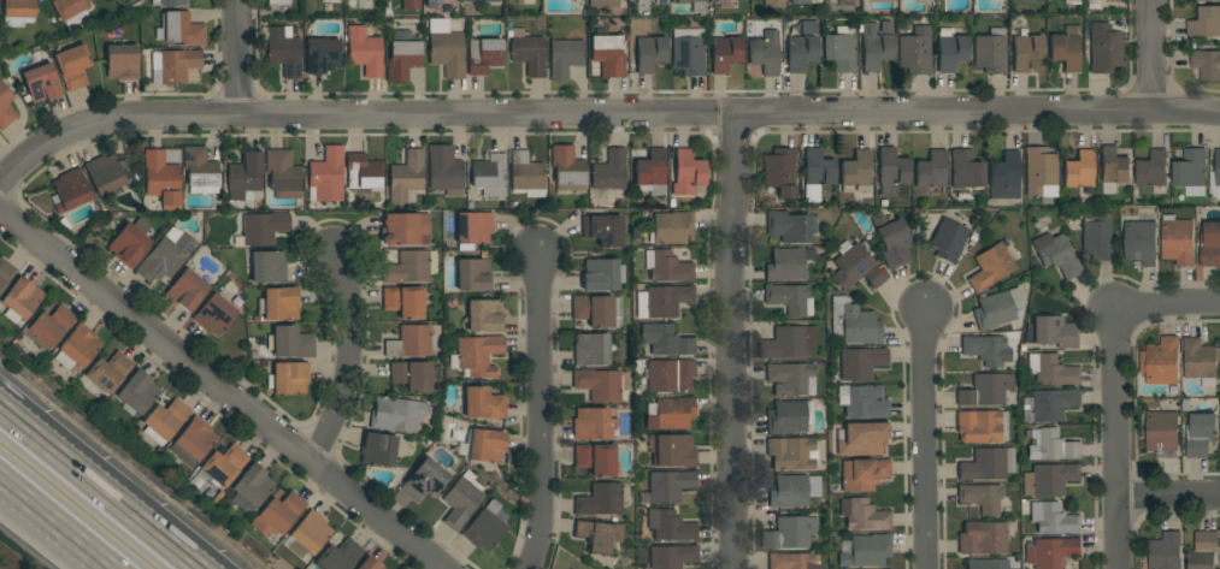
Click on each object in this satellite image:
building: (481, 0)
building: (884, 0)
building: (924, 0)
building: (1207, 0)
building: (278, 1)
building: (649, 1)
building: (806, 1)
building: (845, 1)
building: (1021, 1)
building: (1071, 1)
building: (169, 2)
building: (431, 2)
building: (602, 4)
building: (773, 4)
building: (411, 5)
building: (1094, 5)
building: (694, 6)
building: (69, 7)
building: (17, 12)
building: (1206, 23)
building: (179, 30)
building: (874, 47)
building: (950, 49)
building: (1104, 49)
building: (284, 51)
building: (446, 51)
building: (649, 51)
building: (801, 51)
building: (1065, 51)
building: (365, 52)
building: (528, 52)
building: (688, 52)
building: (839, 52)
building: (915, 52)
building: (990, 52)
building: (1026, 52)
building: (725, 53)
building: (765, 53)
building: (322, 55)
building: (483, 55)
building: (608, 55)
road: (1153, 57)
building: (565, 58)
road: (237, 59)
building: (402, 60)
building: (122, 63)
building: (1207, 65)
building: (72, 66)
building: (173, 66)
building: (41, 83)
building: (5, 107)
road: (600, 117)
building: (1114, 166)
building: (1218, 167)
building: (567, 168)
building: (818, 168)
building: (930, 170)
building: (966, 170)
building: (1039, 170)
building: (1078, 170)
building: (200, 171)
building: (444, 171)
building: (609, 171)
building: (1153, 171)
building: (525, 172)
building: (780, 172)
building: (856, 172)
building: (891, 172)
building: (1191, 172)
building: (105, 173)
building: (363, 173)
building: (652, 173)
building: (688, 173)
building: (282, 174)
building: (326, 176)
building: (489, 176)
building: (406, 177)
building: (1004, 177)
building: (244, 178)
building: (161, 179)
building: (70, 190)
building: (790, 226)
building: (263, 227)
building: (473, 227)
building: (672, 227)
building: (405, 229)
building: (606, 231)
building: (1097, 236)
building: (892, 241)
building: (948, 241)
building: (1178, 241)
building: (1141, 242)
building: (130, 243)
building: (1210, 244)
building: (166, 255)
building: (1056, 255)
building: (788, 263)
building: (266, 267)
building: (667, 267)
building: (854, 267)
building: (990, 267)
building: (411, 268)
building: (5, 273)
building: (602, 274)
building: (473, 275)
building: (187, 291)
building: (790, 298)
building: (20, 300)
building: (662, 301)
building: (403, 302)
building: (279, 303)
road: (1168, 307)
building: (997, 309)
building: (593, 310)
building: (214, 314)
building: (484, 315)
building: (855, 325)
building: (48, 328)
building: (1051, 332)
building: (666, 340)
road: (731, 342)
building: (290, 343)
building: (409, 343)
building: (789, 343)
building: (78, 348)
building: (591, 350)
building: (986, 350)
building: (477, 355)
road: (349, 358)
building: (1161, 361)
building: (1200, 361)
building: (859, 363)
building: (1051, 371)
building: (110, 372)
building: (412, 377)
building: (667, 377)
building: (288, 378)
building: (790, 378)
building: (600, 385)
road: (223, 390)
building: (985, 390)
building: (136, 393)
building: (864, 401)
building: (483, 404)
building: (1048, 405)
road: (541, 410)
building: (396, 414)
building: (672, 414)
building: (786, 417)
building: (165, 421)
building: (593, 423)
building: (982, 427)
building: (1162, 433)
building: (1200, 434)
road: (926, 435)
road: (1118, 438)
building: (862, 439)
building: (193, 441)
building: (1053, 445)
building: (485, 446)
building: (377, 449)
building: (672, 450)
building: (791, 454)
building: (595, 458)
building: (988, 464)
building: (223, 468)
building: (862, 474)
building: (424, 479)
building: (1049, 479)
building: (667, 486)
road: (100, 488)
building: (251, 488)
building: (792, 491)
road: (1169, 497)
building: (980, 498)
building: (600, 500)
building: (460, 503)
building: (278, 514)
building: (862, 515)
building: (1053, 518)
road: (58, 521)
building: (485, 526)
building: (671, 526)
building: (789, 533)
building: (308, 534)
building: (599, 537)
building: (983, 538)
building: (867, 551)
building: (1166, 551)
building: (1203, 551)
building: (1051, 552)
building: (340, 556)
building: (672, 556)
building: (791, 561)
building: (369, 564)
building: (986, 564)

